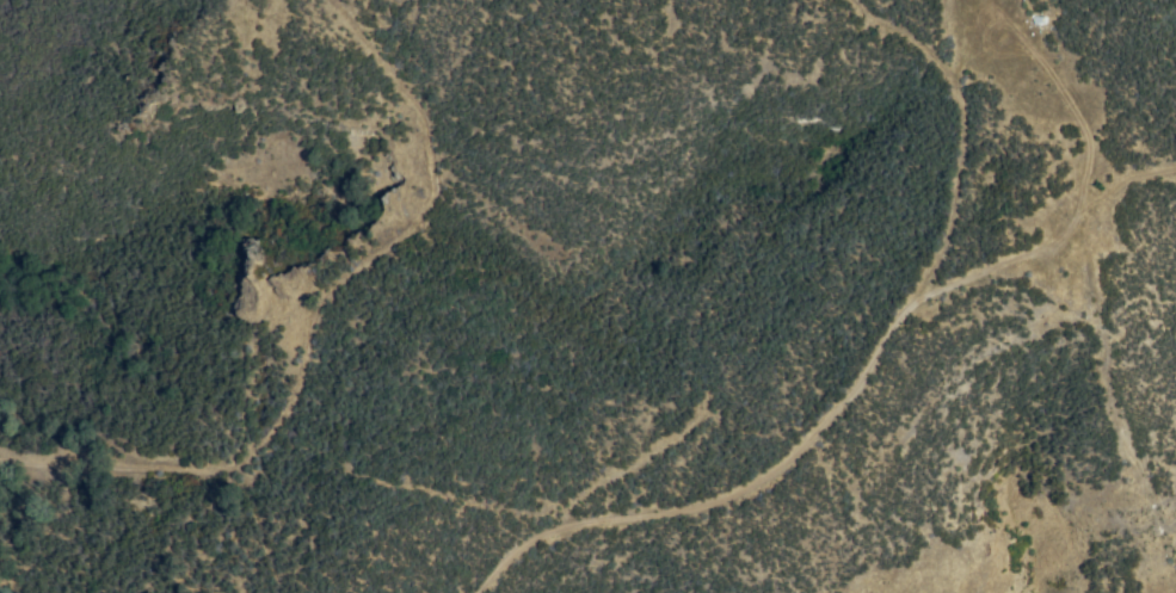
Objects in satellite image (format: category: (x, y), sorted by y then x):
road: (996, 43)
road: (1123, 177)
road: (1076, 206)
road: (308, 311)
road: (850, 379)
road: (1127, 413)
road: (400, 483)

